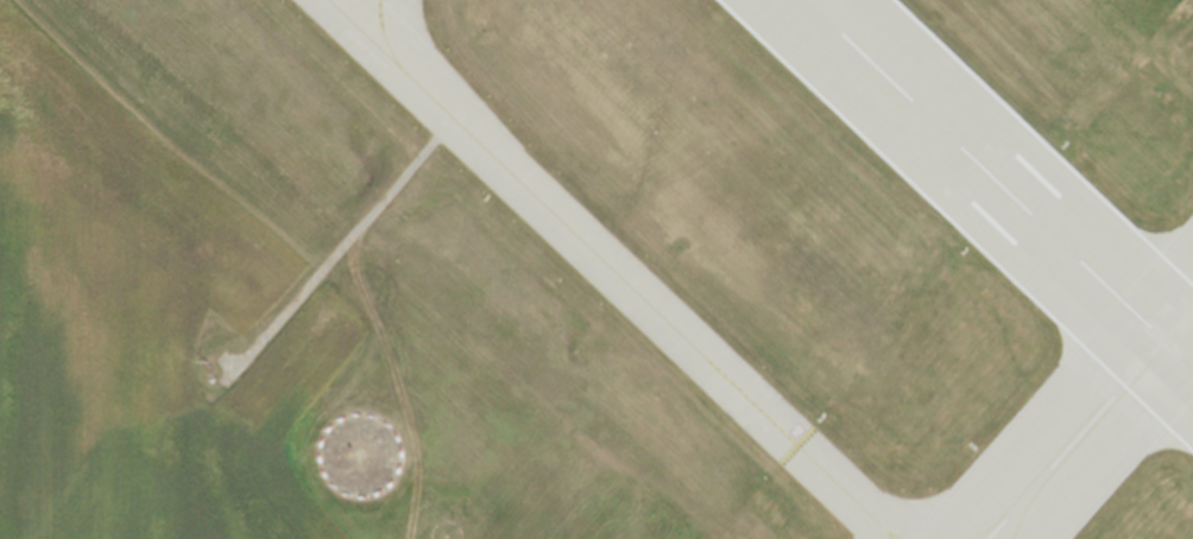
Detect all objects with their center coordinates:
airport taxiway: (384, 36)
airport runway: (999, 183)
airport taxiway: (612, 268)
airport: (596, 269)
airport runway: (1090, 423)

